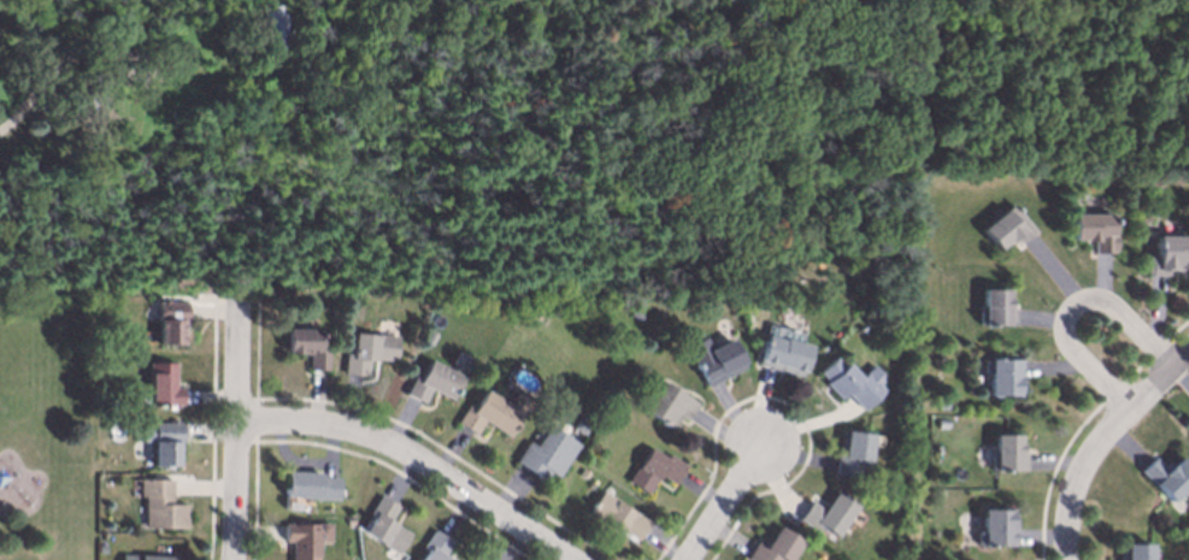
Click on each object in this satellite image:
building: (275, 25)
road: (29, 96)
building: (1008, 228)
building: (1095, 231)
building: (1169, 254)
building: (997, 307)
road: (1073, 311)
building: (171, 323)
building: (307, 347)
building: (784, 350)
building: (369, 352)
building: (717, 360)
building: (1003, 377)
building: (852, 382)
building: (434, 383)
building: (164, 385)
building: (671, 405)
building: (494, 413)
park: (46, 425)
road: (237, 436)
building: (163, 442)
road: (1101, 442)
building: (547, 453)
building: (1008, 453)
building: (854, 454)
road: (416, 458)
building: (657, 470)
building: (1167, 477)
building: (311, 485)
road: (725, 501)
building: (160, 506)
building: (829, 514)
building: (619, 515)
building: (385, 526)
building: (997, 527)
building: (306, 538)
building: (437, 547)
building: (775, 547)
building: (1135, 552)
building: (148, 558)

